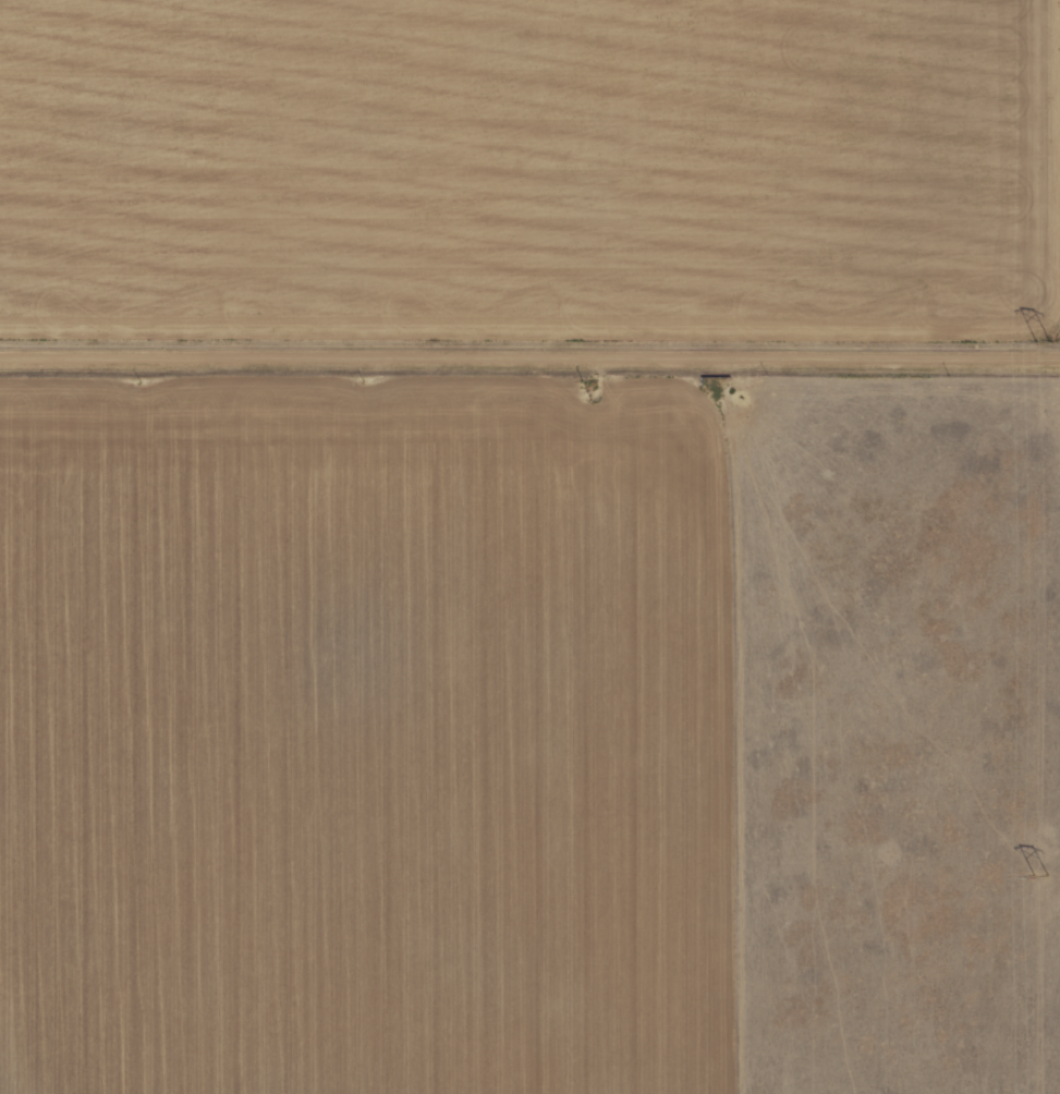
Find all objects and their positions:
power tower: (1046, 338)
road: (529, 361)
power tower: (1039, 876)

